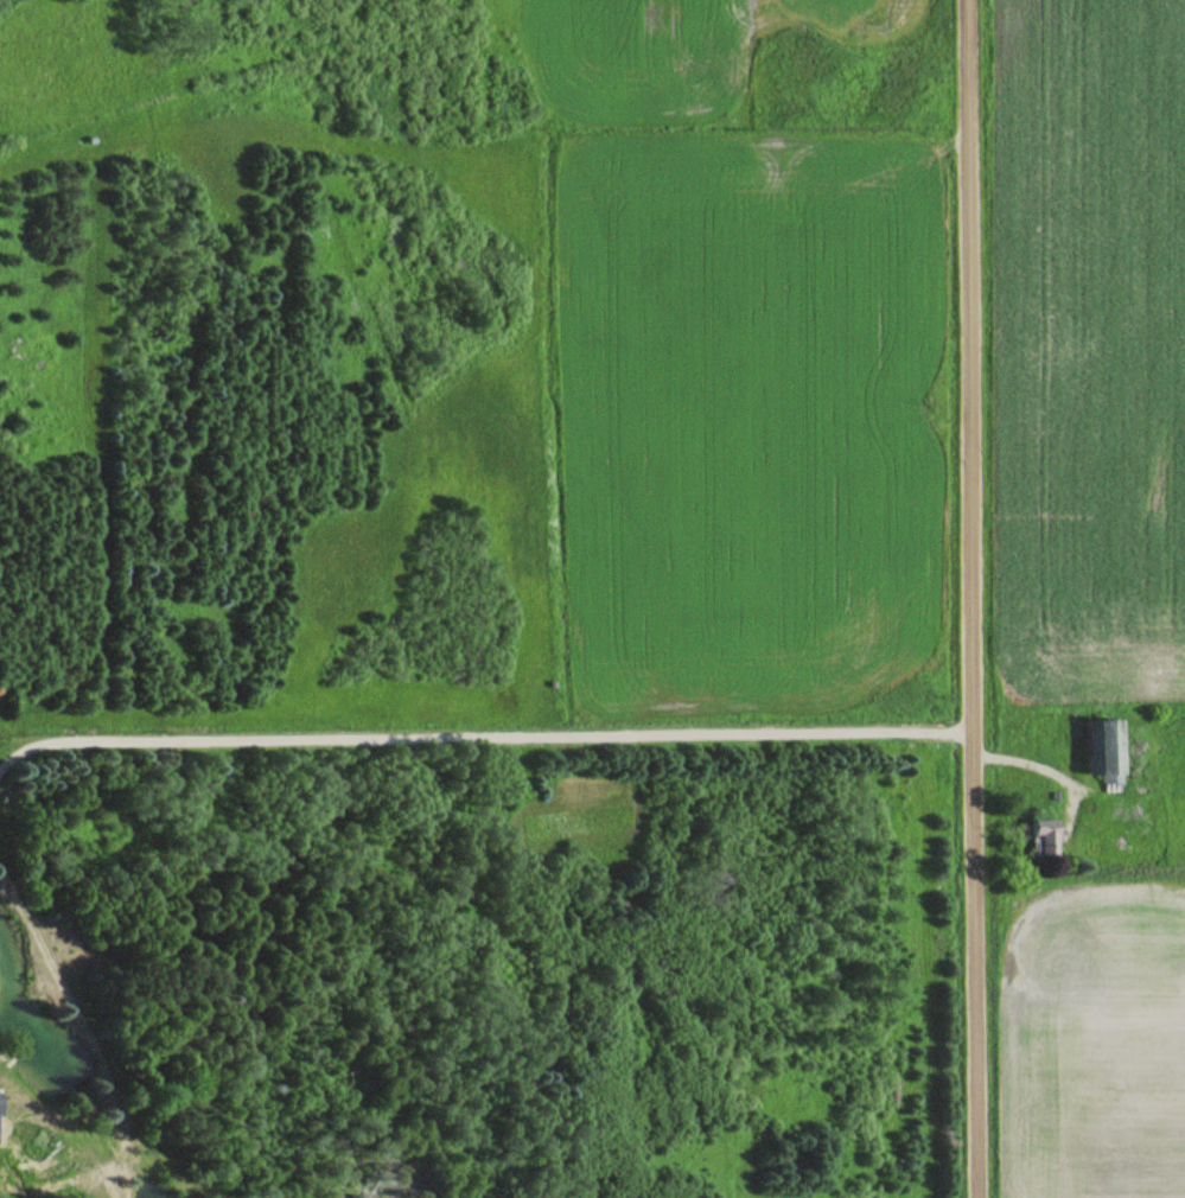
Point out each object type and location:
road: (975, 599)
building: (1109, 750)
building: (1049, 836)
building: (1, 1103)

